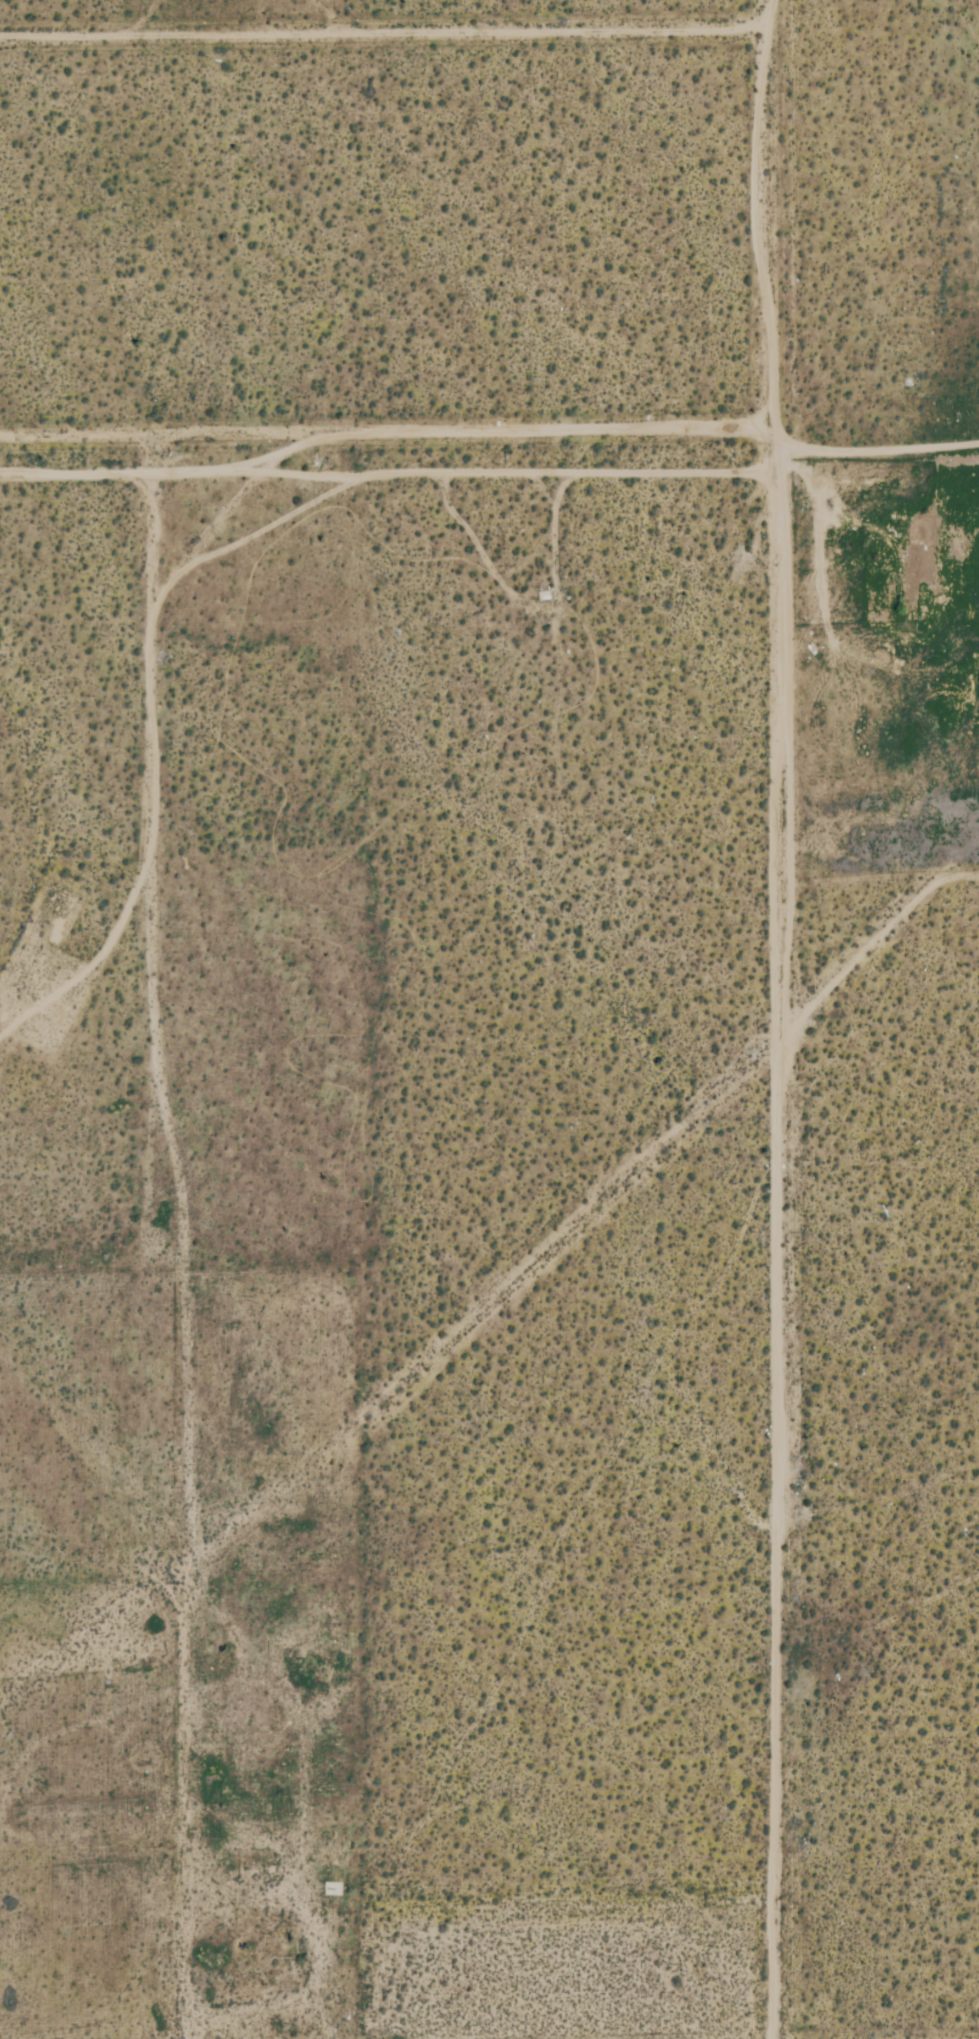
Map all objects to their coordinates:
road: (387, 35)
road: (877, 449)
road: (390, 480)
road: (880, 942)
road: (782, 1018)

